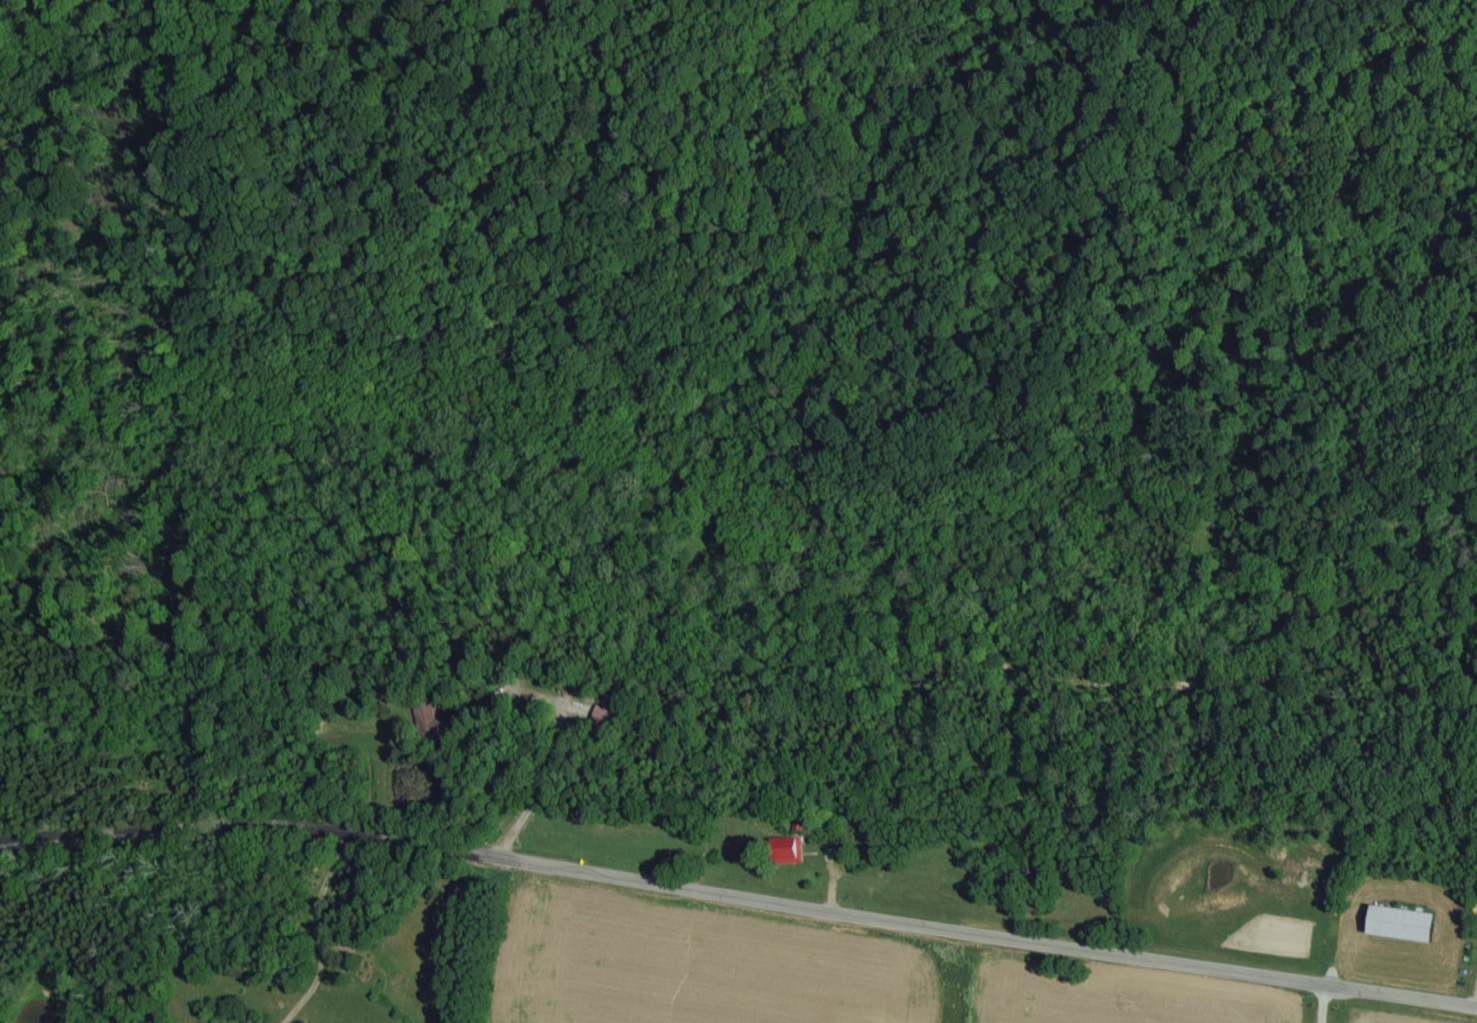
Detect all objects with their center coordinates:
building: (423, 715)
road: (576, 717)
building: (603, 717)
building: (784, 850)
road: (738, 893)
building: (1399, 924)
road: (336, 931)
road: (1327, 1001)

